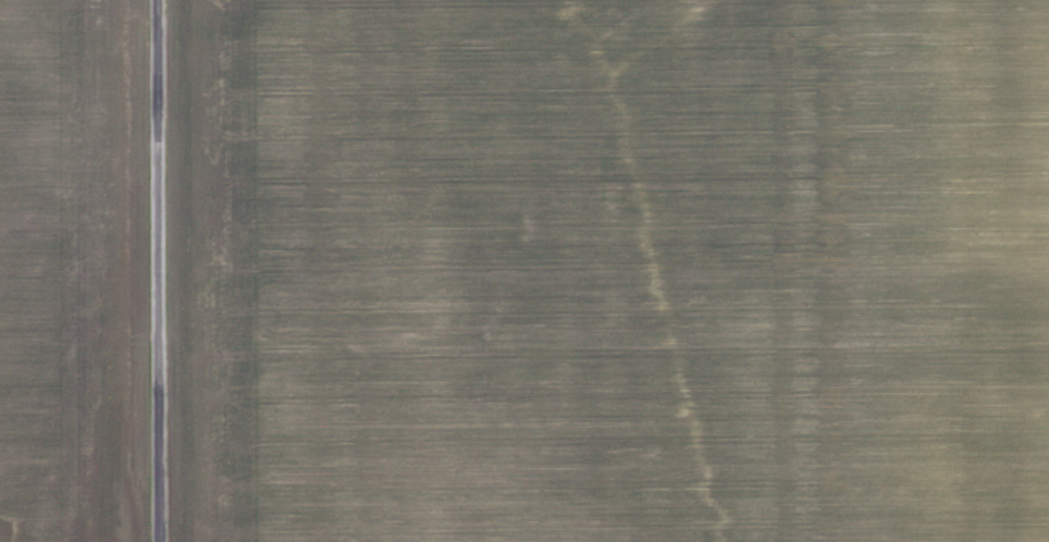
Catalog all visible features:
road: (152, 271)

